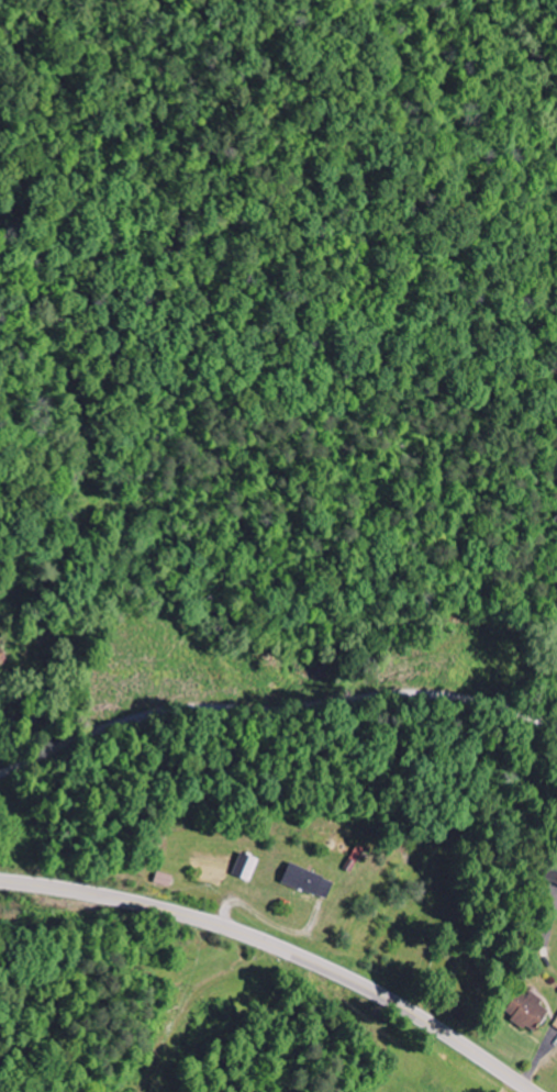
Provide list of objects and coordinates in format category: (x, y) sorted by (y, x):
road: (275, 711)
building: (303, 881)
road: (281, 948)
building: (522, 1010)

